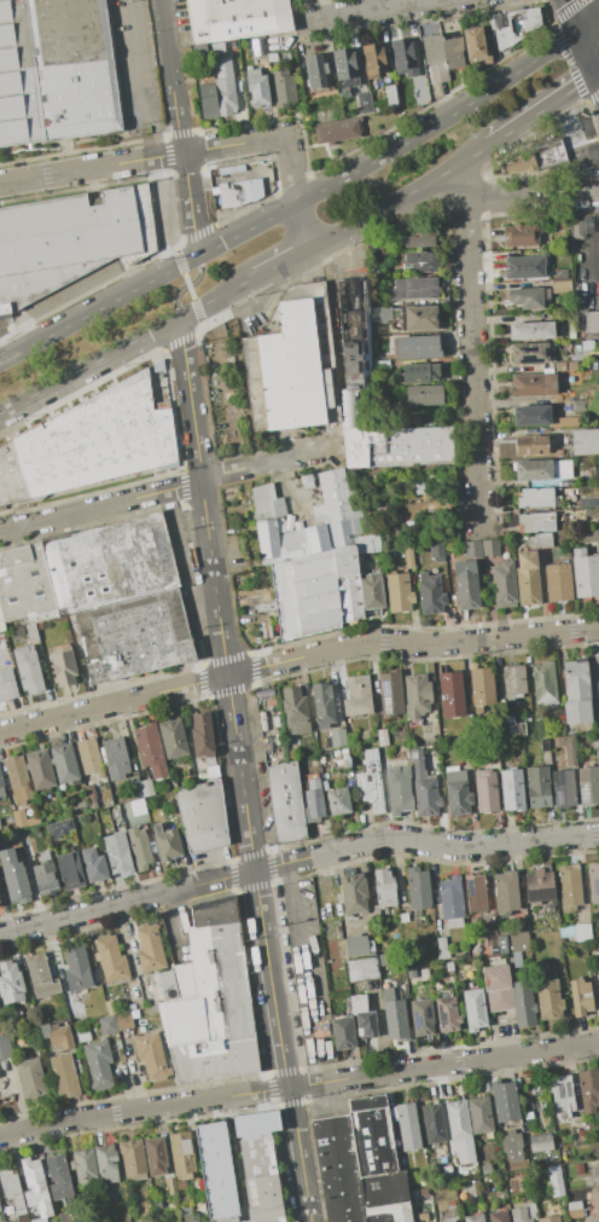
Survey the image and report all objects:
road: (597, 5)
road: (365, 8)
road: (568, 15)
building: (530, 18)
building: (237, 19)
road: (587, 22)
building: (514, 25)
building: (499, 29)
traffic signals: (575, 31)
building: (475, 47)
building: (257, 50)
building: (454, 53)
building: (285, 56)
building: (271, 57)
building: (403, 57)
building: (434, 58)
road: (587, 58)
building: (373, 60)
building: (345, 68)
building: (54, 71)
building: (316, 71)
road: (597, 71)
traffic signals: (594, 74)
road: (140, 79)
building: (257, 87)
building: (283, 87)
building: (225, 95)
building: (391, 97)
building: (208, 98)
building: (364, 102)
road: (542, 109)
road: (577, 115)
road: (179, 128)
building: (337, 131)
parking lot: (581, 143)
building: (549, 152)
road: (174, 154)
road: (238, 174)
road: (459, 183)
road: (531, 193)
building: (232, 195)
road: (399, 198)
road: (292, 205)
road: (301, 227)
building: (576, 228)
building: (522, 236)
building: (420, 237)
building: (69, 239)
building: (420, 260)
road: (280, 263)
building: (524, 266)
building: (560, 274)
road: (186, 285)
building: (560, 285)
road: (188, 286)
building: (413, 289)
building: (528, 297)
building: (379, 313)
building: (418, 318)
building: (591, 322)
building: (530, 330)
building: (351, 336)
building: (377, 338)
road: (127, 343)
building: (588, 346)
building: (418, 347)
building: (529, 353)
road: (471, 360)
building: (291, 363)
building: (559, 365)
building: (382, 366)
building: (589, 367)
building: (419, 372)
building: (534, 384)
building: (424, 395)
building: (585, 405)
building: (347, 409)
building: (540, 417)
building: (585, 441)
building: (88, 444)
building: (531, 445)
building: (396, 446)
building: (557, 453)
road: (263, 467)
building: (542, 469)
building: (306, 476)
building: (418, 485)
building: (535, 498)
building: (585, 502)
road: (100, 506)
building: (536, 522)
building: (592, 535)
building: (540, 541)
building: (490, 548)
building: (471, 549)
building: (436, 554)
building: (408, 557)
building: (312, 558)
building: (85, 571)
building: (585, 573)
building: (528, 578)
building: (558, 583)
building: (371, 584)
building: (504, 584)
building: (466, 587)
building: (399, 592)
building: (431, 592)
building: (264, 596)
building: (266, 630)
building: (134, 635)
road: (296, 658)
road: (595, 664)
building: (63, 667)
building: (28, 670)
building: (513, 681)
building: (7, 684)
building: (543, 684)
building: (481, 688)
building: (576, 691)
building: (390, 694)
building: (450, 694)
building: (356, 695)
building: (322, 705)
building: (419, 706)
building: (501, 706)
building: (295, 710)
building: (504, 725)
building: (519, 728)
building: (202, 735)
building: (337, 737)
building: (382, 737)
building: (173, 739)
building: (595, 741)
building: (150, 749)
building: (493, 753)
building: (414, 754)
building: (89, 755)
building: (344, 757)
building: (115, 758)
building: (209, 760)
building: (64, 763)
building: (40, 769)
road: (238, 770)
building: (348, 776)
building: (17, 778)
building: (371, 781)
building: (588, 786)
building: (396, 787)
building: (537, 787)
building: (1, 788)
building: (134, 788)
building: (147, 788)
building: (512, 789)
building: (563, 789)
building: (115, 792)
building: (425, 792)
building: (485, 792)
building: (456, 793)
building: (93, 795)
building: (337, 800)
building: (284, 801)
building: (312, 805)
building: (138, 806)
building: (81, 807)
building: (115, 815)
building: (203, 815)
building: (83, 816)
building: (23, 820)
building: (0, 829)
building: (59, 829)
building: (23, 841)
building: (167, 844)
building: (139, 847)
building: (117, 851)
road: (296, 859)
building: (94, 865)
building: (69, 868)
building: (46, 874)
building: (14, 878)
building: (593, 881)
building: (540, 884)
building: (570, 886)
building: (384, 887)
building: (417, 887)
building: (505, 892)
building: (353, 893)
building: (475, 893)
building: (450, 899)
building: (374, 913)
building: (402, 917)
road: (295, 923)
building: (576, 932)
building: (489, 934)
building: (512, 940)
building: (357, 945)
building: (149, 949)
building: (442, 949)
building: (111, 959)
building: (517, 960)
building: (76, 967)
building: (362, 969)
building: (598, 974)
building: (414, 975)
building: (41, 977)
building: (11, 981)
building: (167, 981)
building: (496, 990)
building: (130, 991)
building: (548, 998)
building: (581, 998)
building: (211, 1001)
building: (357, 1003)
building: (523, 1003)
building: (151, 1009)
building: (473, 1009)
building: (446, 1012)
building: (394, 1014)
building: (423, 1018)
building: (123, 1020)
building: (366, 1023)
building: (106, 1024)
building: (82, 1032)
building: (343, 1033)
building: (57, 1035)
building: (5, 1047)
building: (151, 1055)
building: (98, 1064)
building: (66, 1075)
building: (30, 1077)
road: (298, 1084)
building: (588, 1089)
building: (562, 1095)
building: (505, 1101)
building: (479, 1116)
building: (458, 1120)
building: (432, 1123)
building: (407, 1127)
building: (541, 1142)
building: (511, 1147)
building: (597, 1148)
building: (376, 1152)
building: (156, 1156)
building: (179, 1156)
building: (598, 1158)
building: (133, 1160)
building: (546, 1160)
building: (106, 1163)
building: (83, 1168)
building: (337, 1169)
building: (485, 1169)
building: (580, 1169)
building: (238, 1171)
building: (447, 1174)
building: (60, 1180)
building: (556, 1181)
building: (171, 1186)
building: (35, 1187)
building: (472, 1187)
building: (13, 1192)
building: (595, 1197)
building: (574, 1209)
building: (389, 1212)
building: (187, 1215)
building: (519, 1215)
building: (498, 1216)
building: (473, 1217)
building: (448, 1218)
building: (548, 1218)
building: (592, 1218)
building: (40, 1220)
building: (431, 1221)

